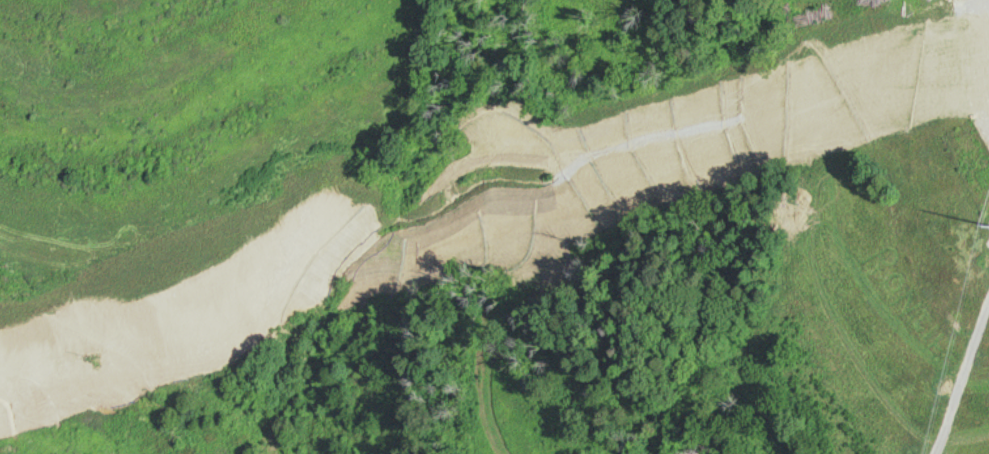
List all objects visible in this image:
road: (961, 376)

